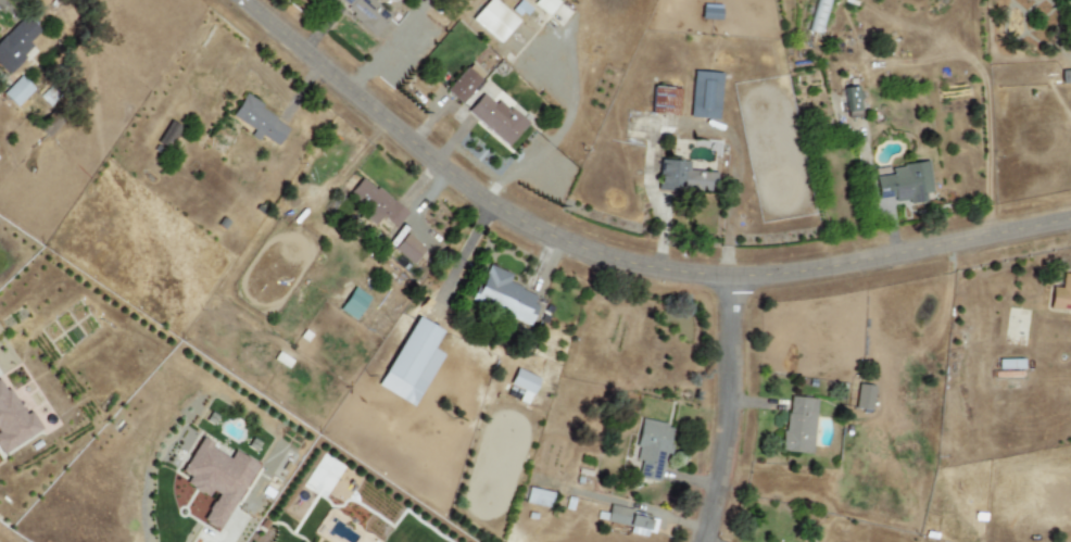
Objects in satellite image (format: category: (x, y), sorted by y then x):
building: (544, 5)
building: (366, 13)
building: (817, 14)
building: (493, 20)
building: (16, 43)
building: (1066, 77)
building: (465, 84)
building: (17, 91)
building: (705, 94)
building: (850, 100)
building: (665, 101)
building: (496, 118)
building: (259, 122)
road: (689, 124)
building: (683, 177)
building: (904, 184)
building: (377, 203)
building: (407, 249)
road: (615, 260)
building: (1061, 294)
building: (504, 295)
building: (353, 303)
building: (408, 362)
building: (524, 385)
building: (864, 396)
road: (729, 409)
building: (13, 421)
building: (798, 425)
building: (652, 449)
building: (217, 479)
building: (538, 497)
building: (632, 520)
road: (229, 533)

